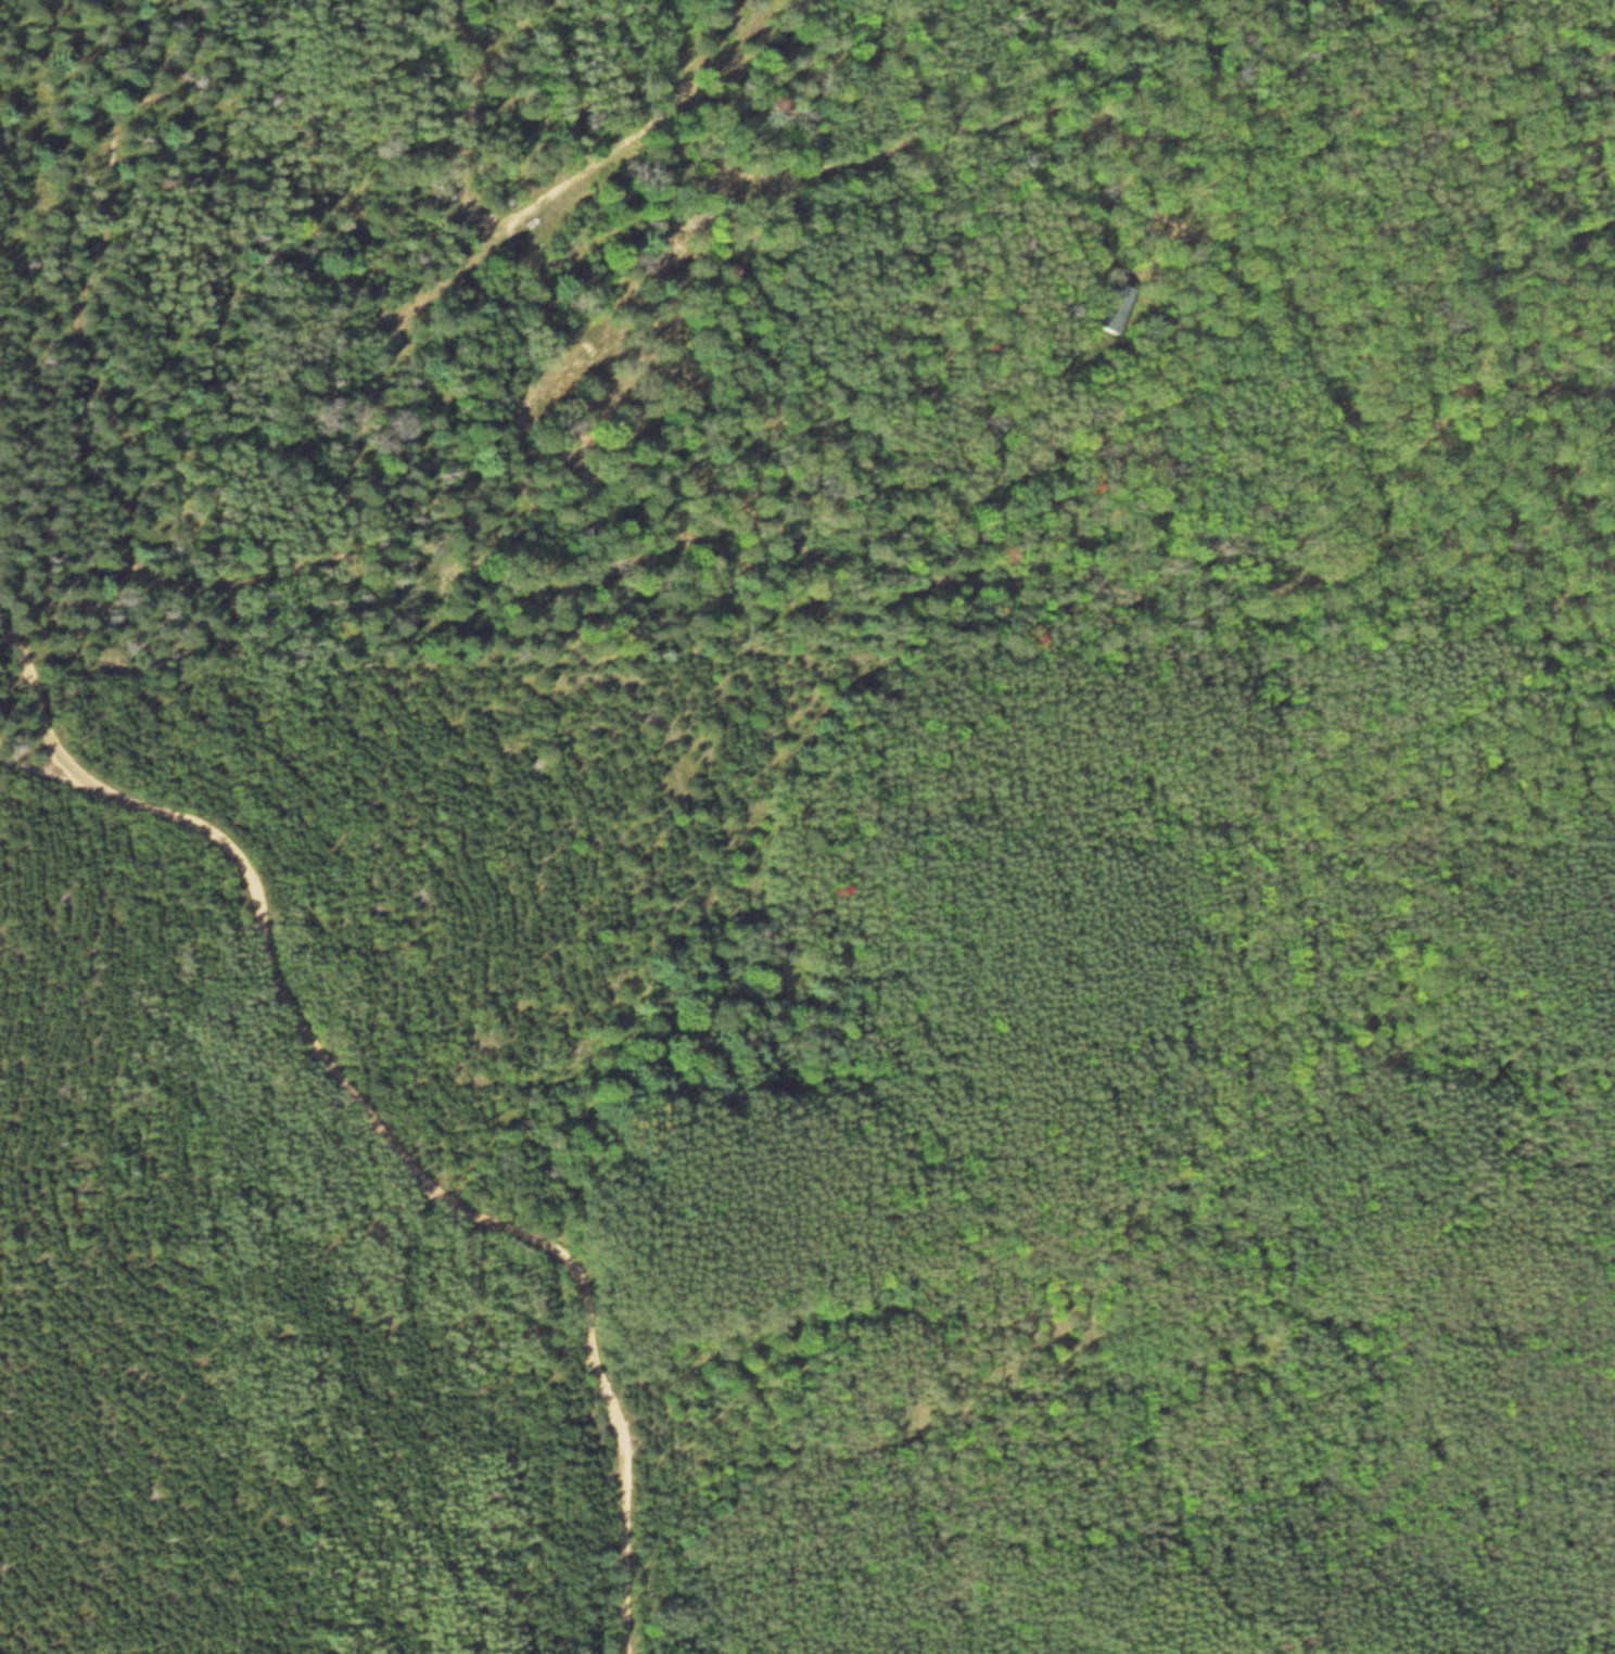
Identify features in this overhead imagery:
road: (728, 140)
building: (1109, 305)
road: (126, 565)
road: (35, 704)
road: (394, 1154)

